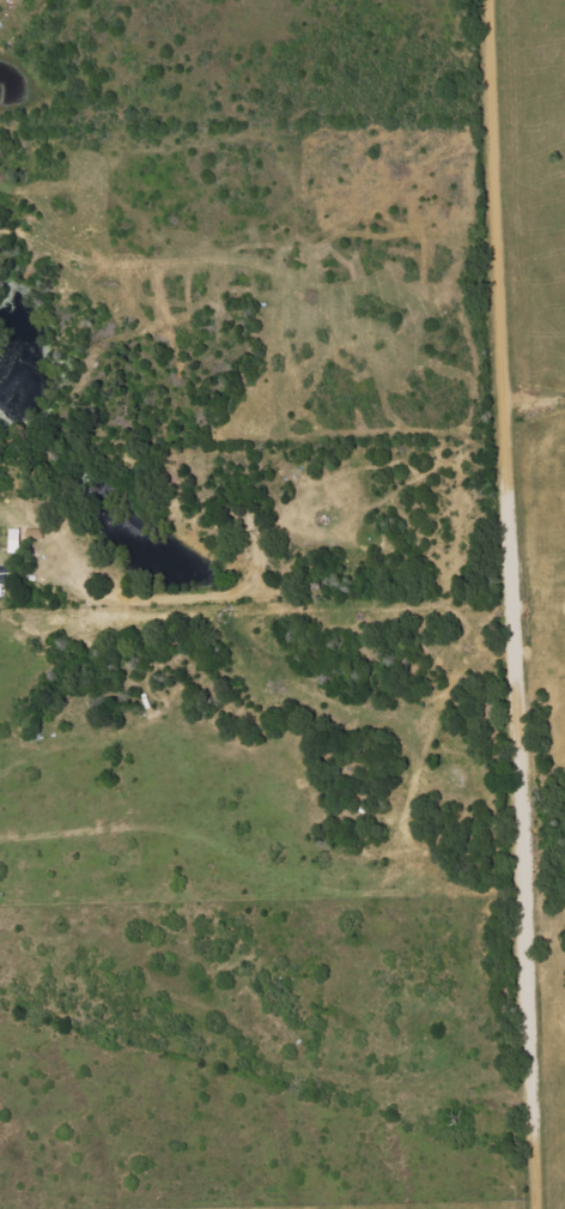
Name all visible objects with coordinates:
building: (2, 582)
road: (509, 604)

